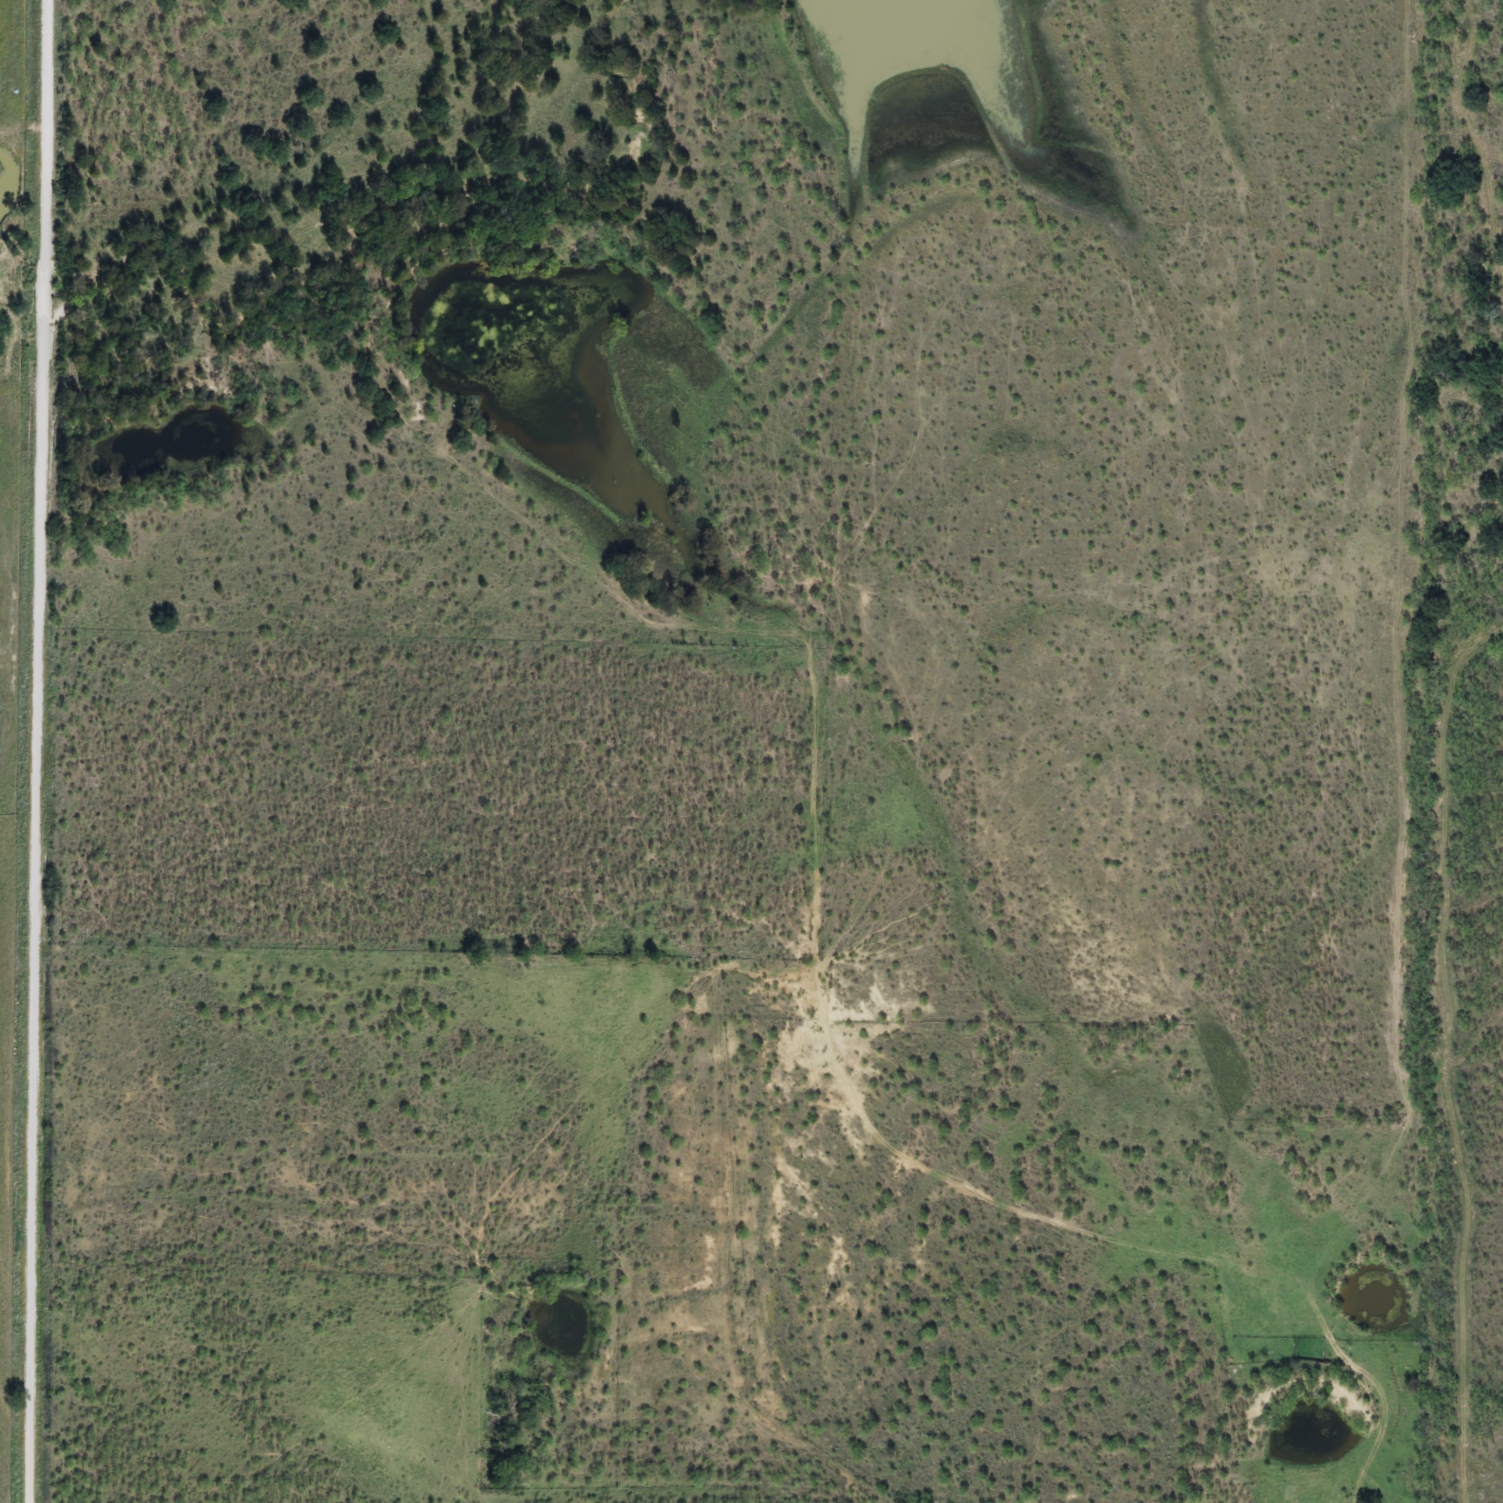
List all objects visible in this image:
road: (42, 751)

